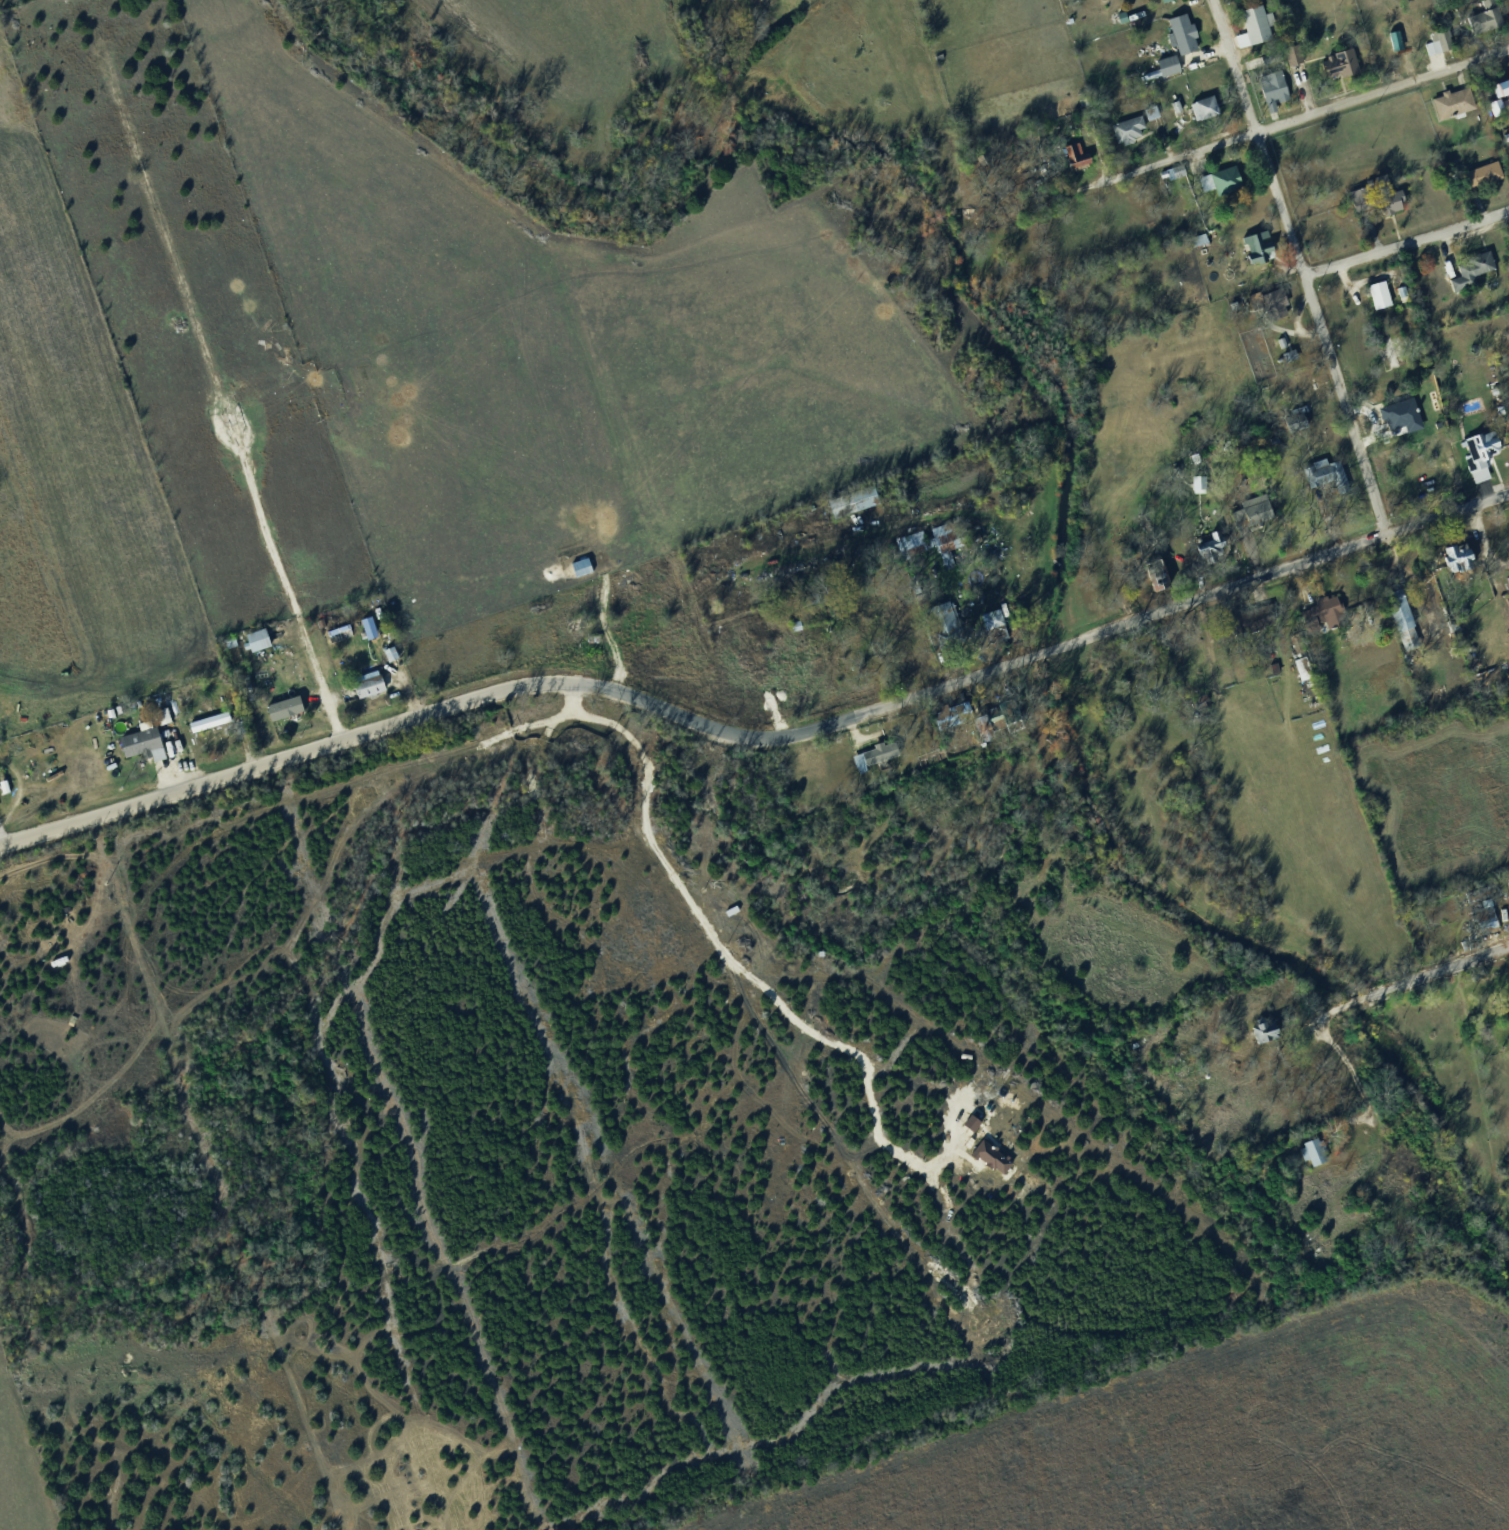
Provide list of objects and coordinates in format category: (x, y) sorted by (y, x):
building: (1165, 2)
building: (1490, 3)
building: (1117, 20)
building: (1481, 26)
building: (1250, 30)
building: (1178, 38)
building: (1440, 44)
building: (1295, 53)
building: (1171, 65)
building: (1337, 69)
building: (1163, 70)
building: (1504, 88)
building: (1268, 92)
building: (1448, 107)
building: (1499, 107)
building: (1153, 111)
building: (1170, 111)
building: (1200, 114)
road: (1298, 117)
building: (1124, 134)
building: (1079, 154)
building: (1070, 160)
building: (1476, 180)
building: (1166, 184)
building: (1218, 186)
building: (1371, 202)
building: (1508, 229)
road: (1406, 243)
building: (1508, 245)
building: (1253, 252)
road: (1300, 267)
building: (1466, 274)
building: (1374, 299)
building: (1272, 301)
building: (1263, 309)
building: (1285, 360)
building: (1299, 417)
building: (233, 421)
building: (1293, 425)
building: (1476, 458)
building: (1321, 479)
building: (1201, 483)
building: (849, 508)
building: (1248, 514)
building: (940, 546)
building: (1206, 551)
building: (1451, 558)
building: (1152, 585)
building: (1259, 616)
building: (1394, 617)
building: (1320, 619)
building: (1405, 622)
building: (940, 624)
building: (988, 624)
building: (791, 628)
building: (261, 638)
building: (253, 645)
building: (224, 647)
road: (1019, 658)
building: (388, 661)
building: (1304, 664)
building: (1296, 673)
building: (365, 691)
building: (1005, 710)
building: (280, 712)
building: (954, 714)
building: (202, 726)
building: (139, 748)
building: (868, 760)
road: (262, 762)
building: (1484, 922)
road: (1369, 998)
building: (1268, 1029)
building: (1260, 1036)
building: (975, 1121)
building: (995, 1156)
building: (1307, 1157)

